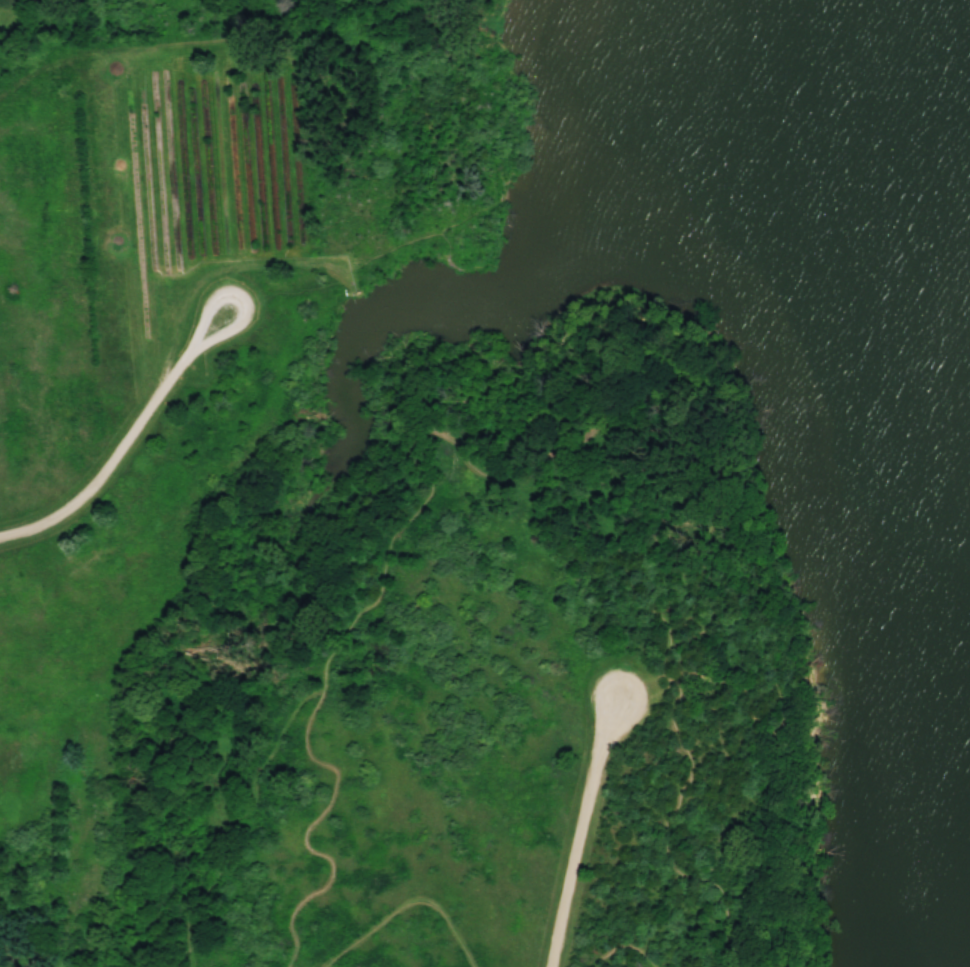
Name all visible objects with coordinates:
road: (122, 439)
park: (485, 483)
road: (737, 604)
road: (579, 831)
road: (408, 904)
road: (626, 943)

